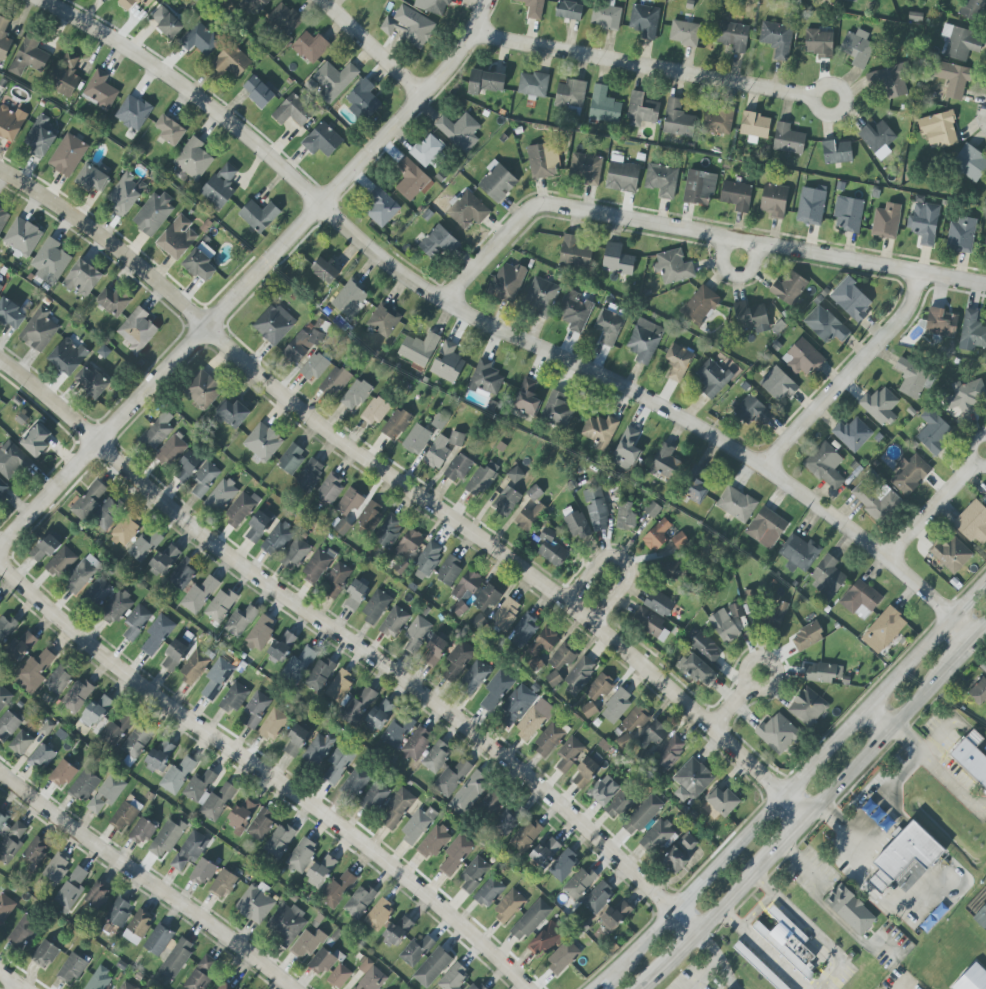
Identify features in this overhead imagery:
building: (365, 0)
building: (851, 0)
building: (147, 2)
building: (127, 4)
building: (432, 6)
building: (533, 8)
building: (570, 9)
building: (974, 11)
building: (605, 17)
building: (284, 18)
building: (644, 21)
building: (166, 22)
building: (409, 27)
building: (684, 33)
building: (733, 36)
building: (4, 39)
building: (776, 39)
building: (200, 40)
building: (961, 42)
building: (819, 43)
building: (310, 47)
road: (377, 48)
building: (857, 48)
building: (29, 55)
building: (232, 61)
road: (656, 66)
building: (65, 74)
building: (953, 78)
building: (333, 80)
building: (486, 81)
building: (888, 81)
building: (533, 85)
building: (100, 89)
building: (258, 91)
building: (363, 100)
building: (603, 106)
building: (641, 110)
building: (292, 111)
building: (133, 112)
building: (678, 120)
building: (718, 120)
building: (11, 123)
building: (755, 125)
building: (938, 129)
building: (170, 130)
building: (459, 131)
building: (875, 136)
building: (40, 138)
building: (788, 139)
building: (322, 140)
building: (427, 150)
building: (837, 152)
building: (68, 155)
building: (193, 159)
building: (540, 161)
building: (970, 163)
building: (586, 168)
building: (622, 174)
building: (91, 178)
building: (411, 179)
building: (661, 180)
building: (497, 181)
building: (220, 186)
building: (699, 188)
building: (126, 194)
building: (736, 195)
building: (774, 201)
building: (810, 205)
building: (380, 208)
building: (468, 211)
building: (153, 214)
building: (848, 214)
building: (259, 216)
building: (3, 219)
building: (886, 221)
building: (923, 221)
road: (699, 232)
building: (961, 235)
building: (22, 237)
building: (177, 237)
building: (985, 243)
building: (437, 244)
building: (575, 251)
road: (747, 251)
building: (617, 260)
building: (50, 262)
building: (199, 266)
building: (673, 267)
building: (325, 270)
building: (82, 278)
building: (507, 282)
road: (254, 283)
building: (0, 286)
building: (788, 288)
building: (541, 297)
building: (350, 299)
building: (851, 299)
building: (114, 302)
building: (700, 305)
building: (574, 310)
building: (10, 314)
building: (753, 319)
building: (383, 320)
building: (941, 323)
building: (273, 324)
building: (825, 325)
building: (608, 327)
road: (499, 329)
building: (38, 330)
building: (137, 330)
building: (972, 330)
building: (644, 340)
building: (418, 349)
building: (68, 356)
building: (803, 358)
building: (677, 361)
building: (447, 363)
building: (316, 365)
road: (853, 375)
building: (486, 378)
building: (712, 378)
building: (913, 378)
building: (91, 382)
building: (334, 382)
building: (778, 385)
building: (202, 390)
building: (355, 395)
building: (965, 395)
building: (527, 398)
building: (879, 406)
building: (557, 410)
building: (751, 410)
building: (375, 411)
building: (232, 414)
building: (396, 424)
building: (599, 431)
building: (932, 432)
building: (852, 434)
building: (155, 435)
building: (417, 439)
building: (456, 439)
building: (36, 441)
building: (262, 442)
building: (171, 450)
building: (626, 450)
building: (437, 453)
building: (291, 459)
building: (12, 461)
building: (664, 462)
building: (187, 466)
building: (825, 466)
building: (458, 468)
building: (309, 474)
building: (515, 474)
building: (910, 475)
building: (205, 478)
building: (481, 479)
road: (413, 480)
building: (2, 487)
building: (695, 487)
building: (330, 488)
building: (535, 493)
building: (220, 496)
building: (984, 497)
building: (89, 500)
building: (876, 500)
building: (506, 501)
building: (349, 502)
building: (736, 504)
road: (938, 505)
building: (596, 508)
building: (652, 509)
building: (239, 510)
building: (106, 514)
building: (625, 516)
building: (529, 517)
building: (368, 518)
building: (973, 523)
building: (576, 525)
building: (257, 526)
building: (342, 527)
building: (767, 527)
building: (124, 531)
building: (388, 531)
building: (656, 536)
building: (276, 539)
building: (679, 540)
building: (145, 545)
building: (45, 548)
building: (406, 549)
building: (551, 549)
building: (799, 552)
building: (951, 553)
building: (295, 555)
building: (164, 559)
building: (427, 560)
building: (61, 562)
building: (316, 566)
building: (449, 570)
building: (82, 574)
building: (182, 575)
building: (827, 578)
building: (335, 579)
road: (611, 581)
building: (464, 591)
building: (99, 592)
building: (199, 595)
building: (355, 595)
building: (487, 598)
building: (860, 599)
building: (658, 603)
building: (221, 605)
building: (118, 606)
building: (375, 606)
building: (736, 611)
building: (505, 613)
building: (776, 614)
building: (240, 621)
building: (136, 622)
building: (394, 622)
building: (650, 624)
building: (723, 626)
building: (6, 627)
building: (883, 630)
building: (523, 631)
building: (260, 633)
building: (416, 634)
road: (982, 634)
building: (156, 635)
building: (807, 637)
road: (358, 639)
building: (21, 646)
building: (281, 646)
building: (705, 647)
building: (434, 651)
building: (174, 656)
building: (563, 657)
road: (960, 657)
building: (457, 660)
building: (299, 664)
building: (194, 667)
building: (697, 670)
building: (34, 671)
building: (822, 672)
building: (580, 673)
building: (319, 674)
building: (473, 678)
building: (216, 679)
building: (57, 681)
building: (339, 685)
building: (600, 687)
building: (496, 690)
building: (978, 691)
building: (4, 696)
building: (77, 696)
building: (234, 698)
road: (918, 702)
building: (359, 705)
building: (616, 705)
road: (737, 705)
building: (515, 706)
building: (807, 706)
building: (254, 710)
building: (589, 710)
building: (96, 711)
building: (379, 716)
road: (881, 716)
building: (534, 719)
building: (634, 720)
building: (8, 725)
building: (272, 725)
building: (396, 732)
building: (110, 734)
building: (653, 734)
building: (777, 734)
road: (975, 737)
road: (909, 738)
building: (973, 738)
building: (548, 739)
building: (295, 740)
building: (136, 741)
building: (20, 743)
building: (417, 743)
road: (928, 744)
road: (983, 744)
building: (318, 750)
building: (669, 753)
building: (568, 754)
building: (159, 755)
building: (41, 757)
building: (436, 757)
building: (970, 761)
road: (267, 765)
building: (337, 765)
building: (585, 772)
building: (62, 774)
building: (177, 776)
road: (798, 777)
building: (451, 778)
building: (691, 780)
building: (355, 782)
building: (84, 786)
building: (603, 791)
building: (107, 793)
building: (468, 793)
building: (208, 795)
building: (375, 797)
road: (966, 799)
building: (722, 801)
building: (492, 803)
building: (618, 805)
building: (396, 809)
building: (126, 813)
building: (642, 815)
building: (240, 817)
building: (3, 819)
building: (509, 819)
building: (261, 824)
building: (417, 825)
road: (841, 825)
building: (142, 831)
building: (526, 835)
building: (657, 836)
building: (166, 838)
building: (279, 841)
building: (432, 842)
building: (688, 842)
building: (11, 843)
building: (190, 850)
building: (35, 851)
building: (545, 852)
building: (301, 855)
building: (455, 855)
building: (904, 855)
building: (674, 861)
road: (768, 861)
building: (563, 865)
building: (56, 867)
building: (321, 870)
building: (202, 872)
building: (473, 873)
road: (147, 879)
building: (223, 883)
building: (579, 883)
building: (71, 888)
building: (337, 890)
building: (489, 892)
building: (98, 894)
building: (597, 897)
building: (358, 901)
building: (255, 903)
building: (508, 906)
building: (5, 907)
road: (755, 909)
building: (849, 910)
building: (378, 914)
building: (615, 915)
building: (981, 918)
building: (530, 920)
building: (286, 924)
building: (787, 925)
building: (138, 927)
building: (22, 931)
building: (397, 931)
road: (810, 931)
building: (546, 938)
building: (158, 940)
building: (306, 944)
road: (709, 944)
building: (791, 944)
road: (764, 949)
building: (782, 949)
building: (415, 951)
building: (45, 954)
building: (562, 957)
building: (175, 959)
building: (321, 962)
building: (758, 966)
building: (432, 967)
building: (71, 968)
building: (201, 973)
road: (702, 973)
road: (727, 973)
building: (339, 976)
building: (369, 976)
road: (15, 977)
building: (99, 978)
building: (454, 978)
building: (972, 979)
road: (606, 983)
road: (901, 985)
building: (127, 986)
building: (224, 986)
building: (478, 986)
road: (25, 987)

